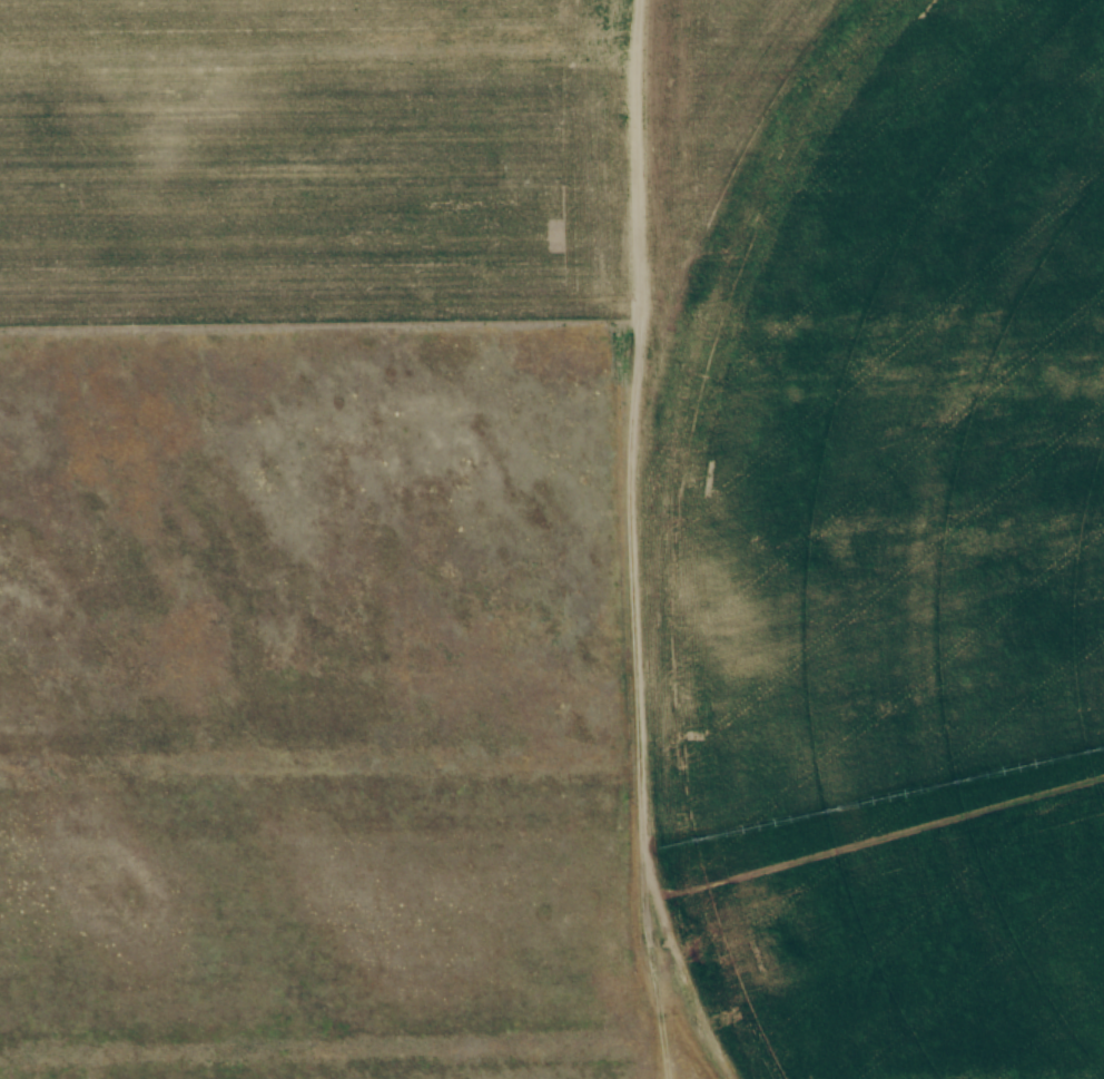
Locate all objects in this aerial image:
crop: (709, 421)

